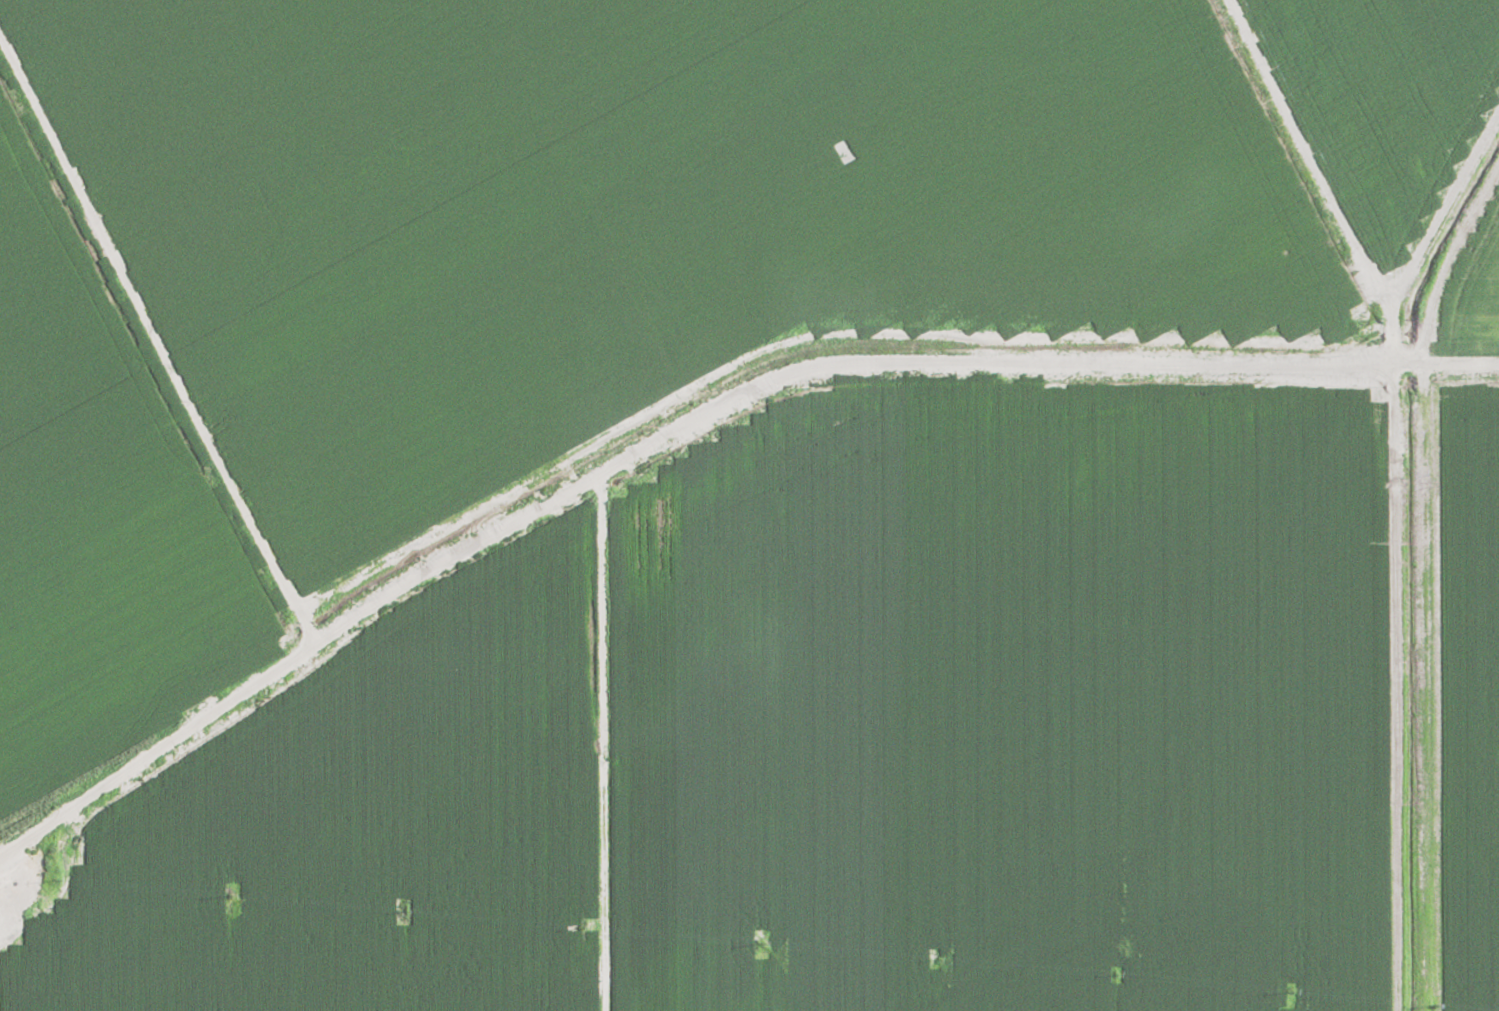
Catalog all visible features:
road: (582, 205)
road: (1088, 364)
road: (331, 631)
road: (1422, 687)

